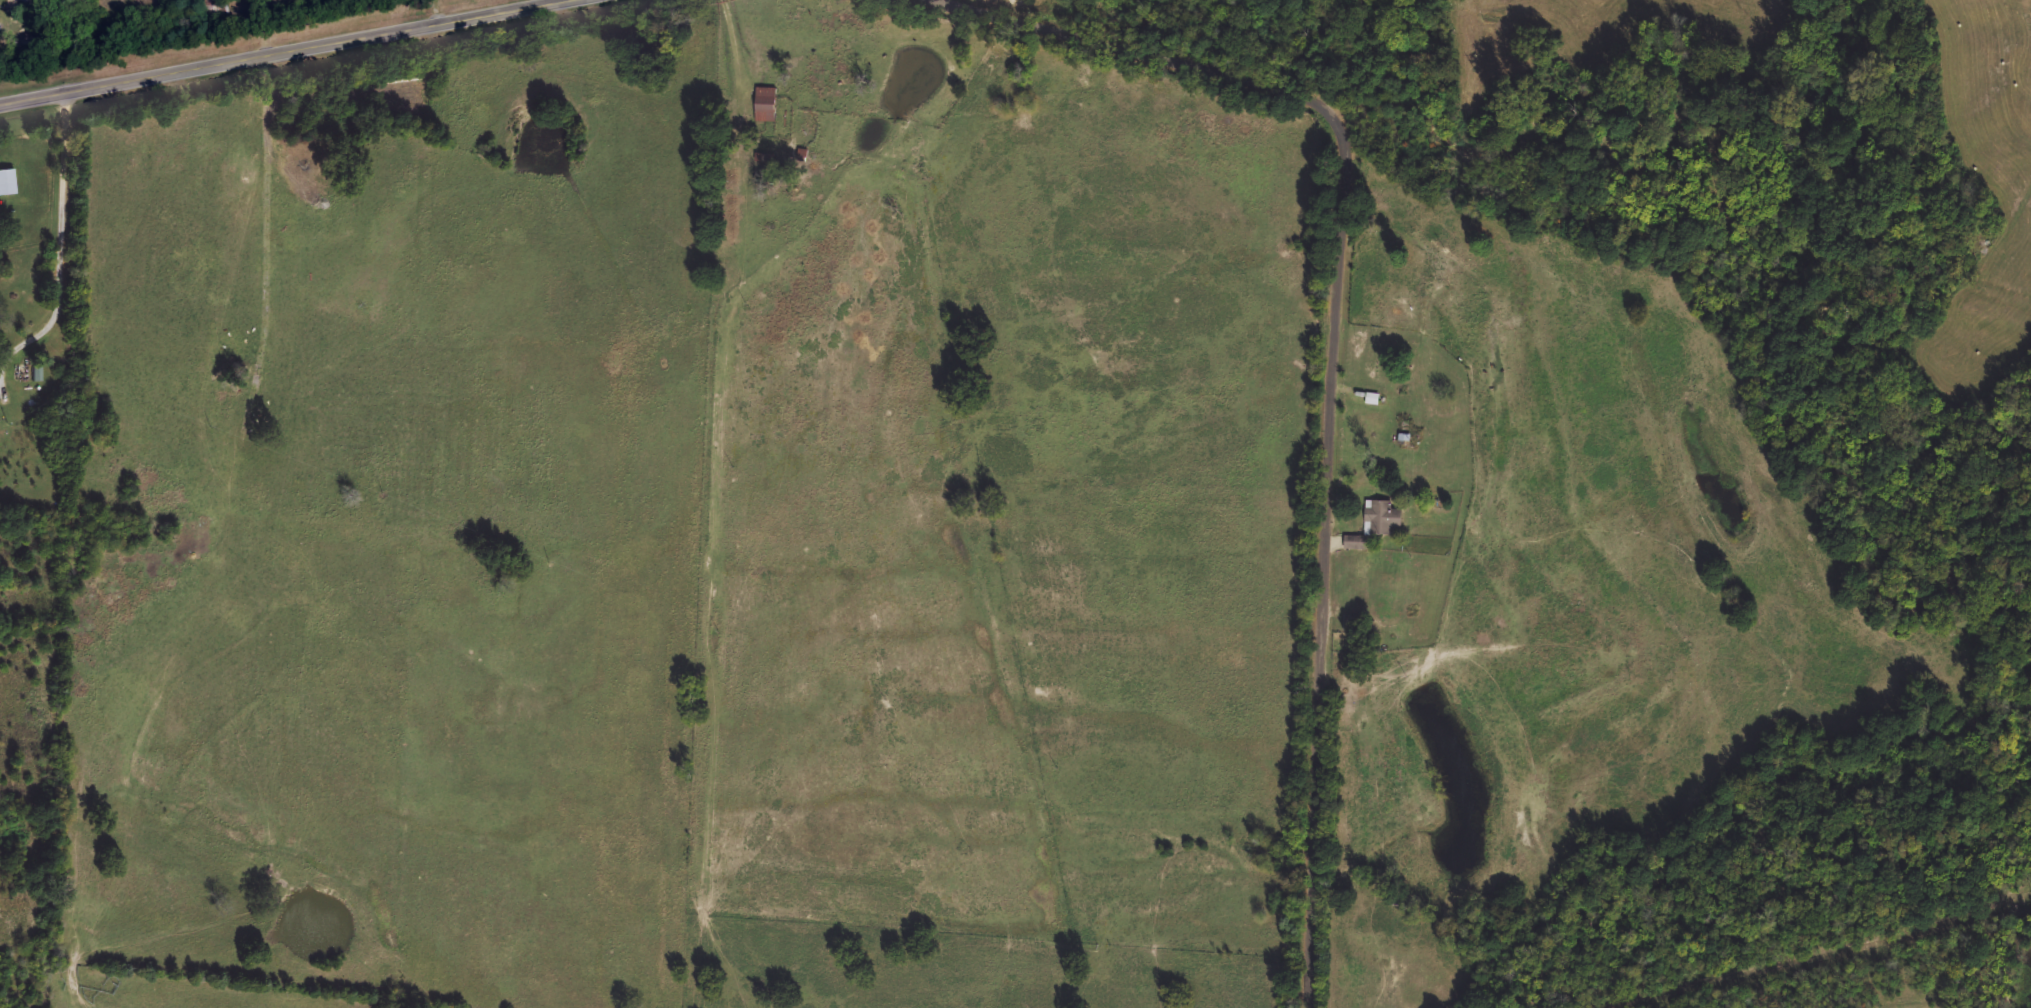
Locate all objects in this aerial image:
building: (216, 8)
road: (283, 47)
building: (767, 106)
building: (297, 159)
building: (765, 163)
building: (7, 182)
road: (62, 222)
road: (1532, 257)
road: (1334, 356)
building: (1382, 401)
building: (1368, 431)
building: (1373, 533)
building: (1359, 617)

